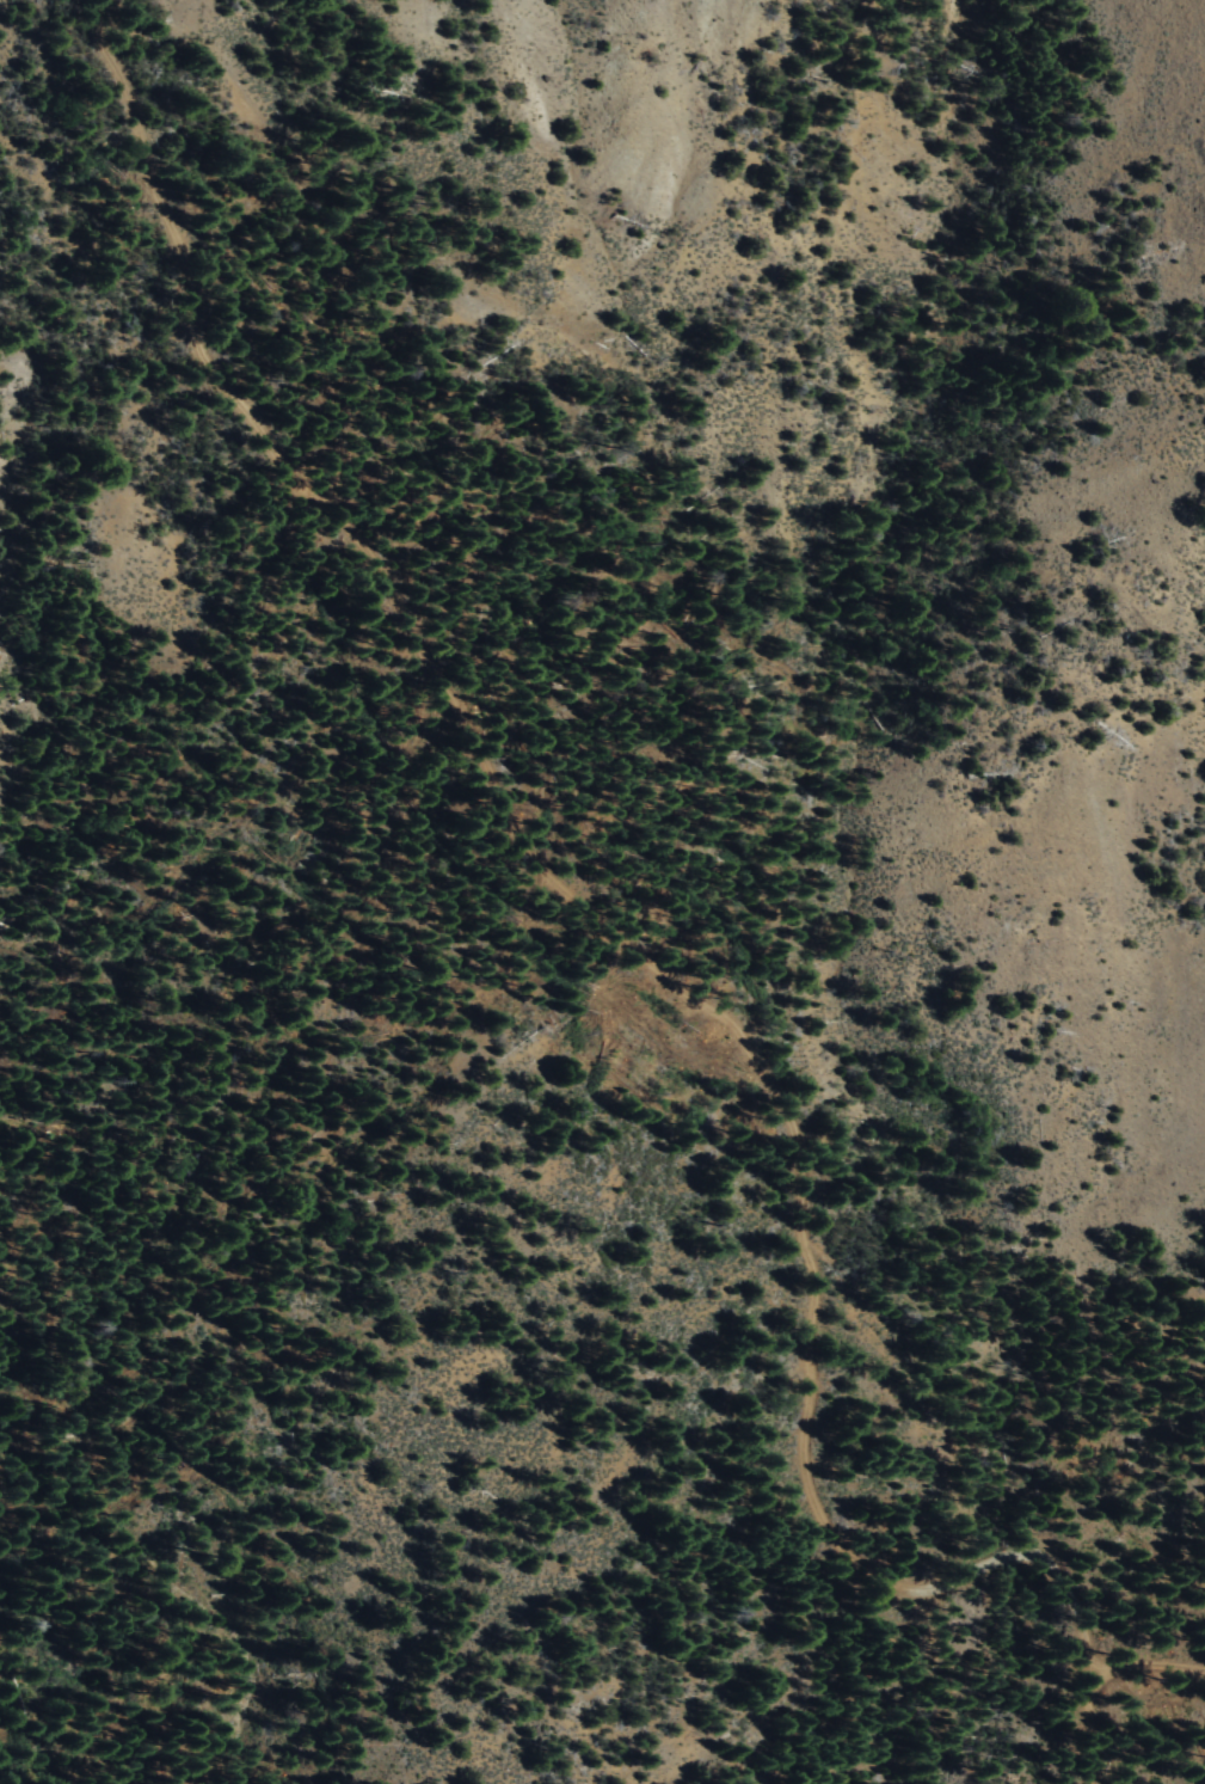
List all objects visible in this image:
road: (1100, 1679)

